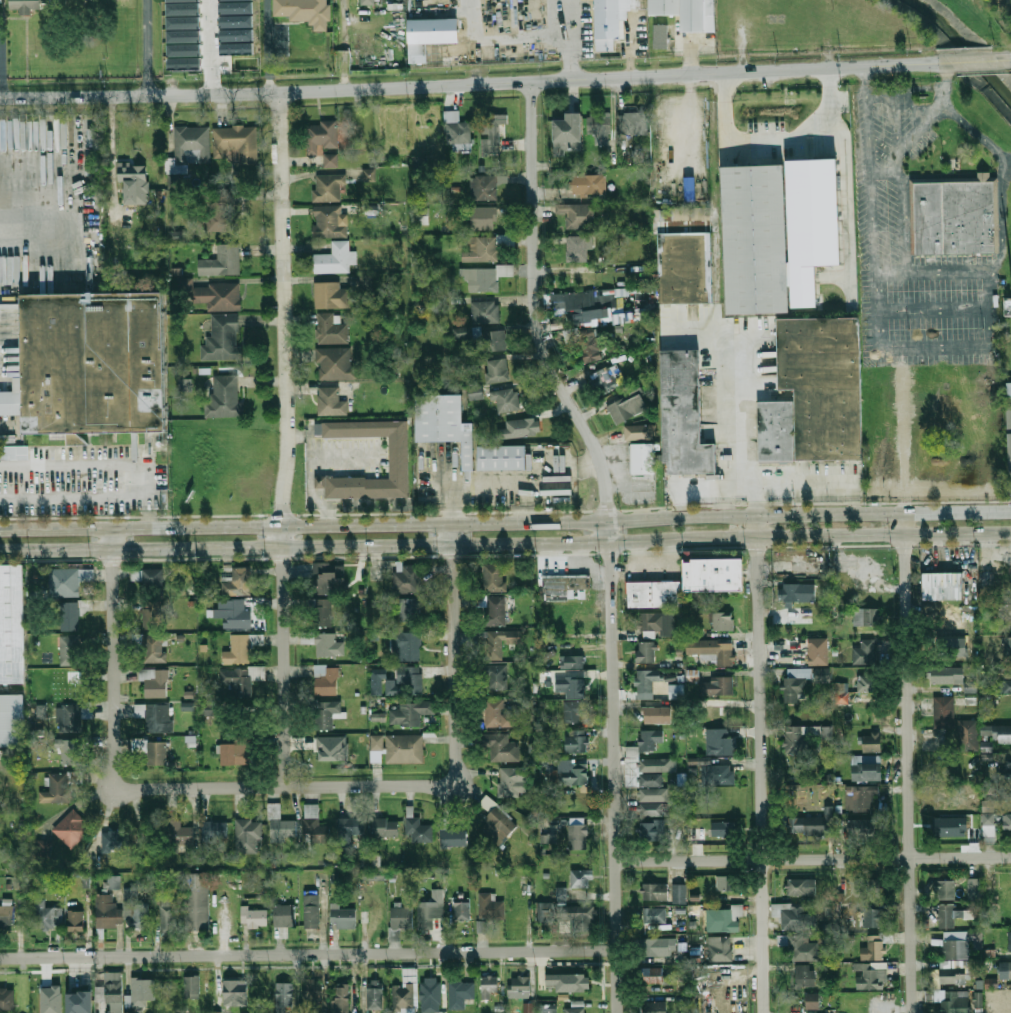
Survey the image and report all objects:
building: (0, 1)
building: (367, 2)
building: (29, 5)
building: (304, 12)
building: (692, 12)
road: (576, 17)
building: (614, 21)
building: (429, 36)
building: (664, 36)
road: (529, 37)
river: (959, 43)
road: (266, 45)
road: (211, 46)
road: (145, 48)
road: (1, 58)
road: (973, 60)
road: (943, 74)
road: (468, 84)
building: (632, 124)
building: (599, 126)
building: (455, 130)
building: (490, 132)
road: (777, 134)
building: (567, 135)
building: (321, 136)
road: (981, 138)
building: (236, 142)
building: (188, 147)
building: (329, 160)
building: (419, 162)
building: (368, 174)
building: (133, 182)
road: (899, 182)
road: (867, 183)
building: (589, 185)
building: (327, 187)
building: (482, 187)
building: (221, 208)
building: (576, 214)
building: (482, 217)
building: (955, 217)
building: (662, 219)
building: (329, 221)
building: (822, 224)
building: (175, 235)
building: (763, 238)
road: (38, 239)
building: (577, 246)
building: (480, 249)
parking lot: (914, 250)
building: (335, 258)
building: (221, 260)
building: (686, 266)
road: (930, 275)
building: (480, 278)
building: (215, 295)
building: (330, 295)
building: (585, 307)
road: (931, 308)
building: (484, 311)
road: (990, 311)
building: (330, 328)
building: (460, 332)
building: (222, 339)
building: (492, 340)
building: (587, 345)
road: (896, 347)
building: (92, 362)
building: (335, 363)
building: (465, 365)
building: (496, 370)
building: (605, 379)
building: (823, 383)
building: (1007, 392)
building: (475, 393)
building: (224, 397)
building: (505, 399)
building: (330, 401)
building: (627, 407)
building: (686, 414)
building: (441, 422)
road: (748, 423)
building: (519, 427)
road: (7, 429)
building: (775, 430)
building: (638, 431)
road: (285, 439)
building: (1008, 443)
building: (13, 452)
building: (396, 456)
building: (499, 457)
building: (642, 458)
road: (316, 459)
road: (91, 464)
road: (508, 480)
building: (318, 482)
road: (738, 487)
road: (75, 498)
road: (522, 502)
road: (150, 513)
road: (505, 525)
road: (608, 539)
road: (505, 543)
building: (713, 575)
building: (495, 577)
building: (407, 578)
building: (149, 580)
building: (328, 580)
building: (67, 581)
building: (238, 582)
building: (942, 586)
building: (566, 587)
building: (794, 592)
building: (655, 594)
building: (410, 609)
building: (495, 611)
building: (234, 612)
building: (323, 612)
building: (152, 614)
building: (69, 617)
building: (866, 617)
building: (723, 621)
building: (655, 622)
building: (11, 624)
building: (947, 624)
building: (326, 644)
building: (493, 644)
building: (407, 645)
building: (1006, 645)
building: (68, 648)
building: (153, 648)
building: (240, 648)
building: (713, 650)
building: (647, 652)
building: (818, 652)
building: (863, 653)
road: (455, 655)
road: (113, 659)
building: (572, 663)
building: (1007, 670)
building: (693, 675)
building: (952, 677)
building: (241, 679)
building: (326, 679)
building: (410, 679)
building: (497, 679)
building: (802, 681)
building: (155, 682)
building: (647, 683)
building: (867, 683)
building: (1004, 685)
building: (570, 686)
building: (717, 686)
building: (676, 691)
building: (842, 693)
building: (187, 706)
building: (208, 709)
building: (40, 710)
building: (574, 710)
building: (944, 711)
building: (409, 712)
building: (326, 713)
building: (718, 714)
building: (501, 715)
building: (657, 715)
building: (155, 716)
building: (70, 718)
building: (10, 720)
building: (997, 731)
building: (967, 733)
building: (799, 737)
building: (650, 739)
building: (576, 742)
building: (872, 742)
building: (721, 743)
building: (234, 744)
building: (494, 745)
building: (400, 747)
building: (332, 748)
building: (152, 750)
building: (71, 753)
road: (907, 762)
road: (763, 764)
building: (656, 765)
building: (866, 768)
building: (1010, 768)
building: (722, 774)
building: (573, 775)
building: (513, 779)
building: (62, 786)
road: (286, 787)
building: (1010, 794)
building: (650, 796)
building: (858, 799)
building: (988, 818)
building: (497, 821)
building: (1007, 822)
building: (815, 823)
building: (314, 824)
building: (350, 827)
building: (947, 827)
building: (384, 828)
building: (864, 828)
building: (72, 829)
building: (283, 829)
building: (726, 829)
building: (215, 830)
building: (419, 830)
building: (650, 831)
building: (697, 831)
building: (178, 833)
building: (248, 835)
building: (447, 836)
building: (578, 837)
building: (548, 838)
building: (115, 840)
building: (43, 848)
building: (191, 857)
building: (375, 860)
road: (813, 860)
building: (371, 875)
building: (582, 878)
building: (112, 882)
building: (731, 883)
building: (802, 887)
building: (868, 887)
building: (973, 888)
building: (944, 890)
building: (655, 891)
building: (561, 893)
building: (679, 893)
building: (197, 902)
building: (490, 907)
building: (106, 910)
building: (312, 911)
building: (462, 911)
building: (544, 911)
building: (375, 914)
building: (140, 915)
building: (284, 915)
building: (654, 915)
building: (946, 915)
building: (7, 916)
building: (48, 916)
building: (168, 916)
building: (254, 916)
building: (342, 916)
building: (426, 916)
building: (794, 916)
building: (401, 917)
building: (577, 918)
building: (876, 918)
building: (725, 919)
building: (76, 921)
building: (481, 926)
building: (1010, 943)
building: (656, 947)
building: (800, 947)
building: (720, 949)
building: (874, 949)
road: (308, 954)
building: (954, 957)
building: (1007, 969)
building: (653, 975)
building: (805, 976)
building: (872, 976)
building: (564, 980)
building: (490, 986)
building: (192, 987)
building: (520, 987)
building: (113, 991)
building: (142, 992)
building: (235, 993)
building: (404, 993)
building: (461, 993)
building: (313, 994)
building: (375, 995)
building: (431, 995)
building: (283, 996)
building: (47, 998)
building: (341, 998)
building: (977, 999)
building: (7, 1000)
building: (950, 1000)
building: (812, 1001)
building: (79, 1002)
building: (1006, 1002)
building: (657, 1007)
building: (528, 1008)
building: (546, 1008)
building: (576, 1010)
building: (127, 1012)

